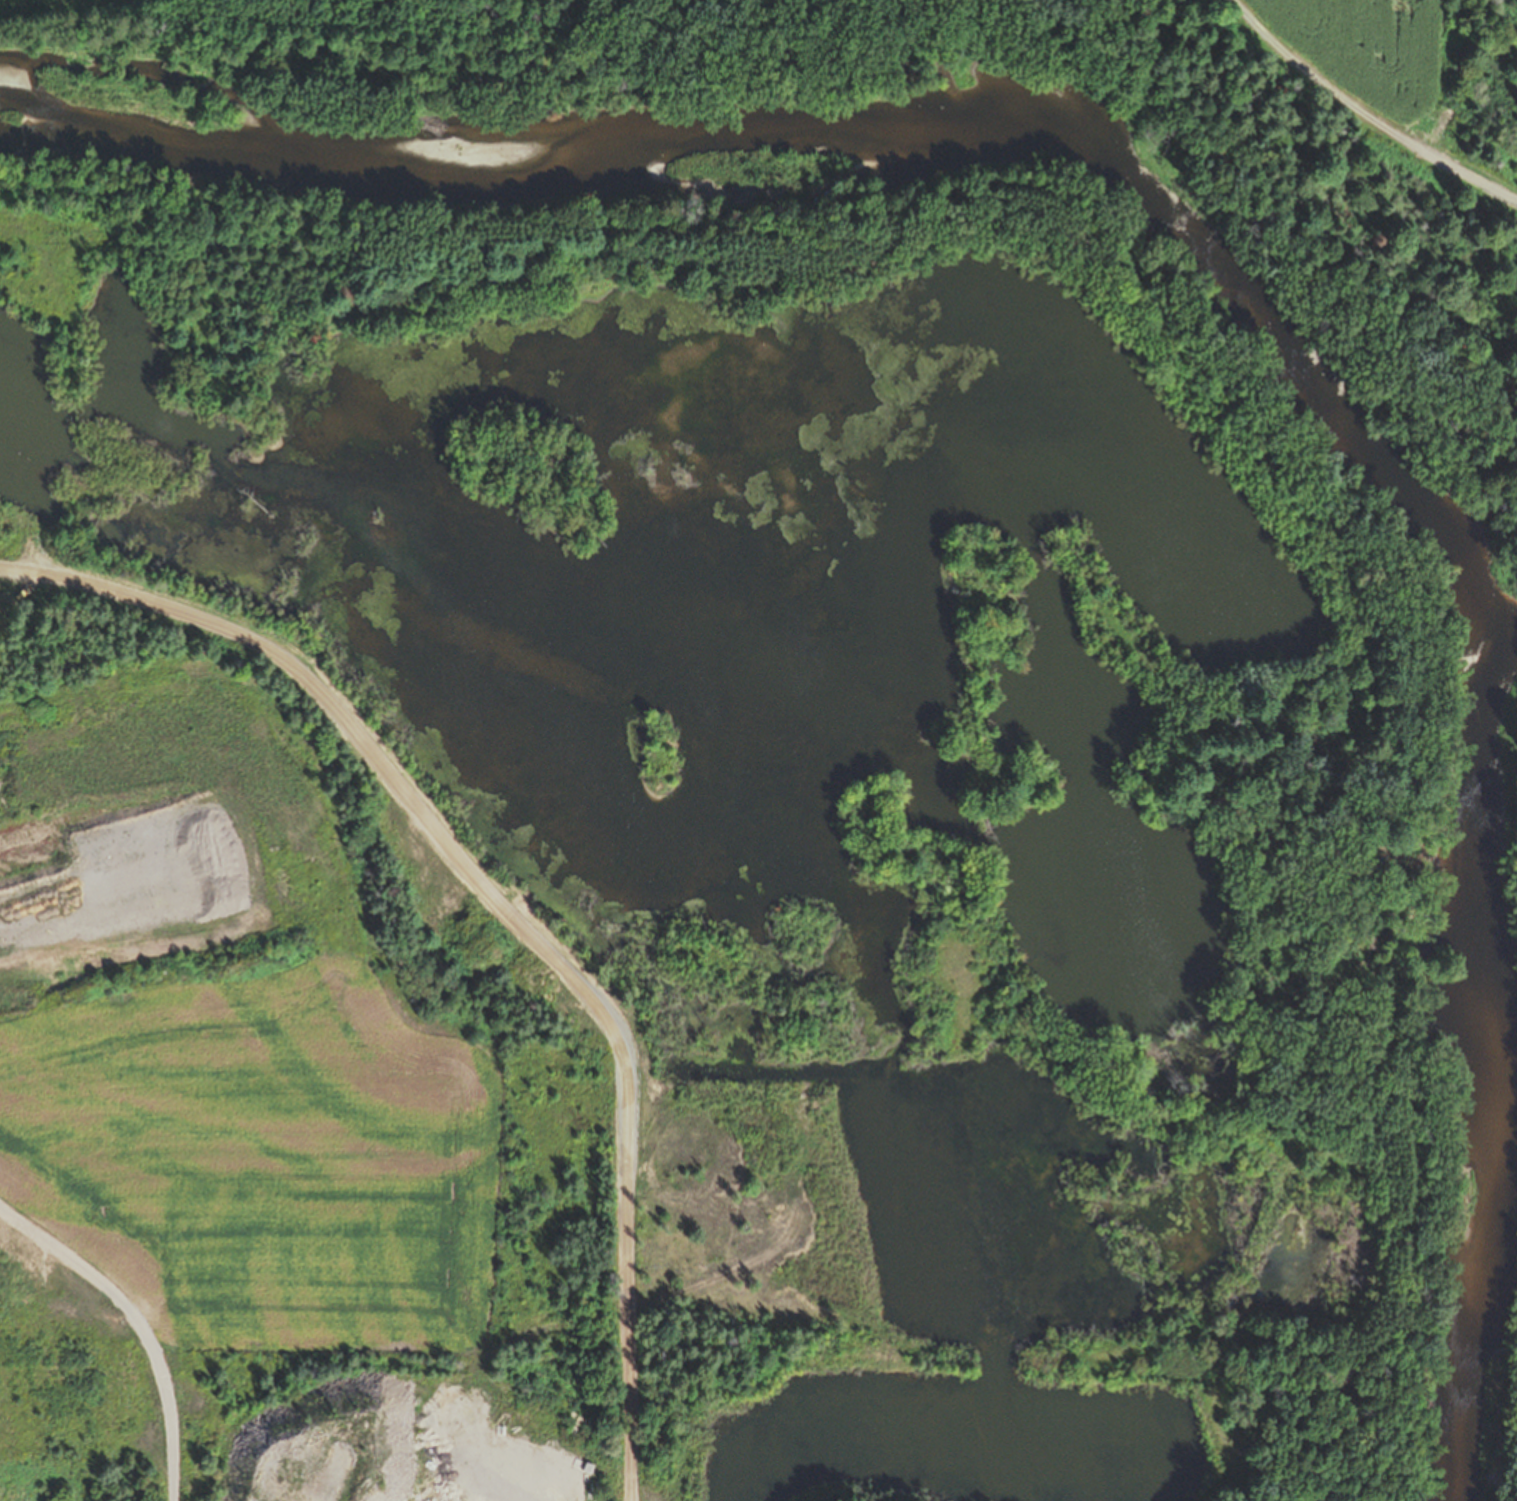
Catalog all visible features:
river: (454, 167)
river: (1239, 307)
quarry: (713, 821)
river: (1512, 1107)
quarry: (276, 1142)
quarry: (475, 1221)

